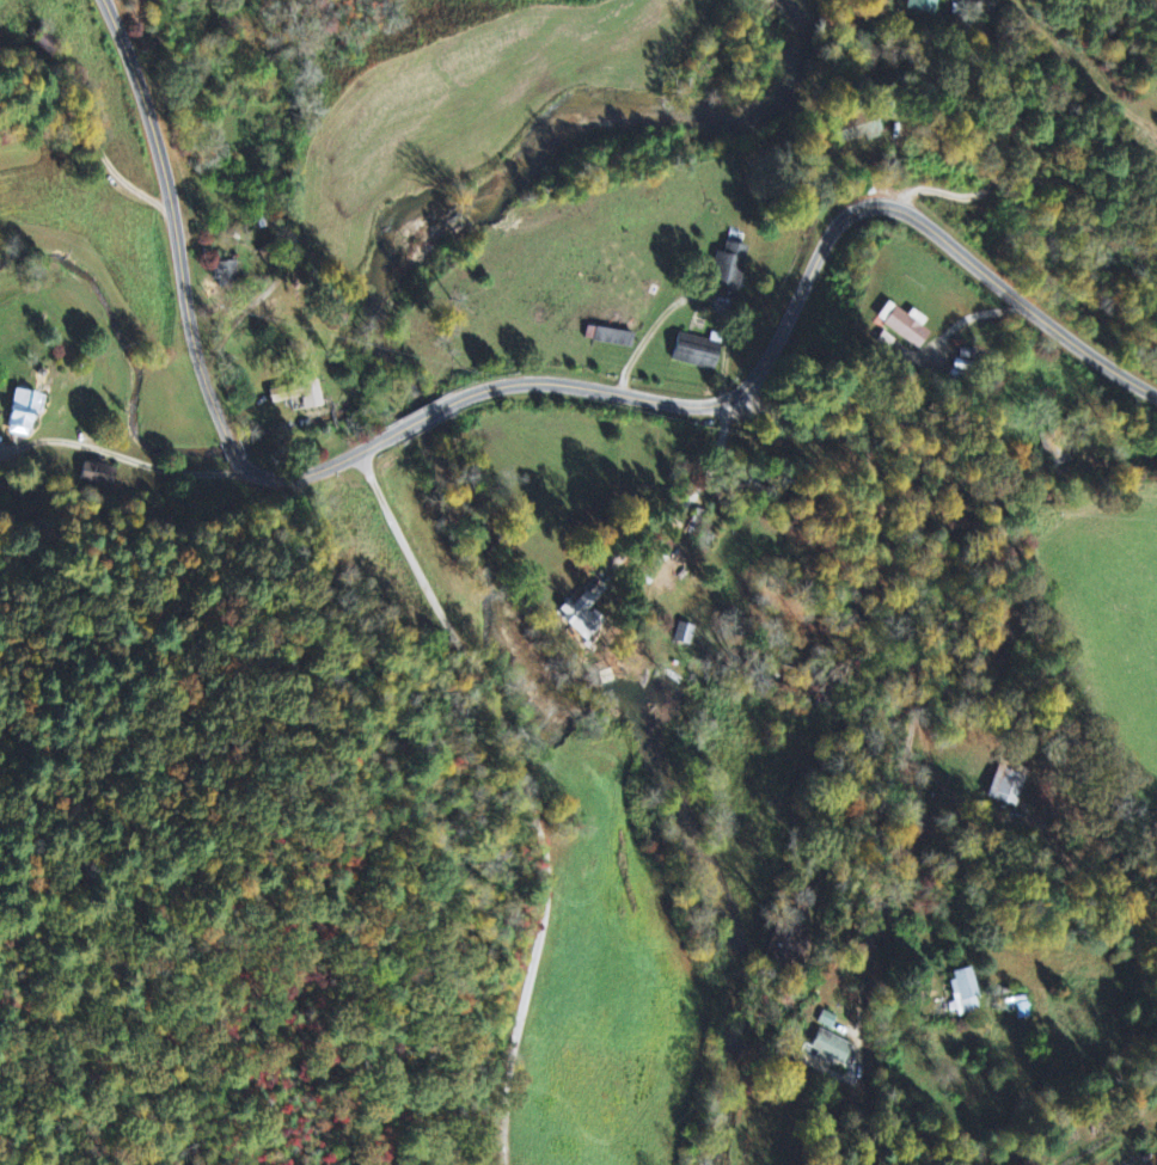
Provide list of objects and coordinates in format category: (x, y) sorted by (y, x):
building: (925, 7)
building: (864, 130)
road: (948, 245)
road: (177, 257)
building: (232, 274)
building: (731, 280)
building: (910, 326)
building: (614, 339)
building: (702, 355)
road: (534, 381)
building: (29, 416)
road: (123, 455)
building: (94, 476)
road: (1028, 590)
building: (586, 617)
building: (688, 634)
road: (522, 781)
building: (1009, 785)
road: (924, 828)
building: (783, 946)
building: (967, 994)
building: (830, 1022)
building: (831, 1049)

